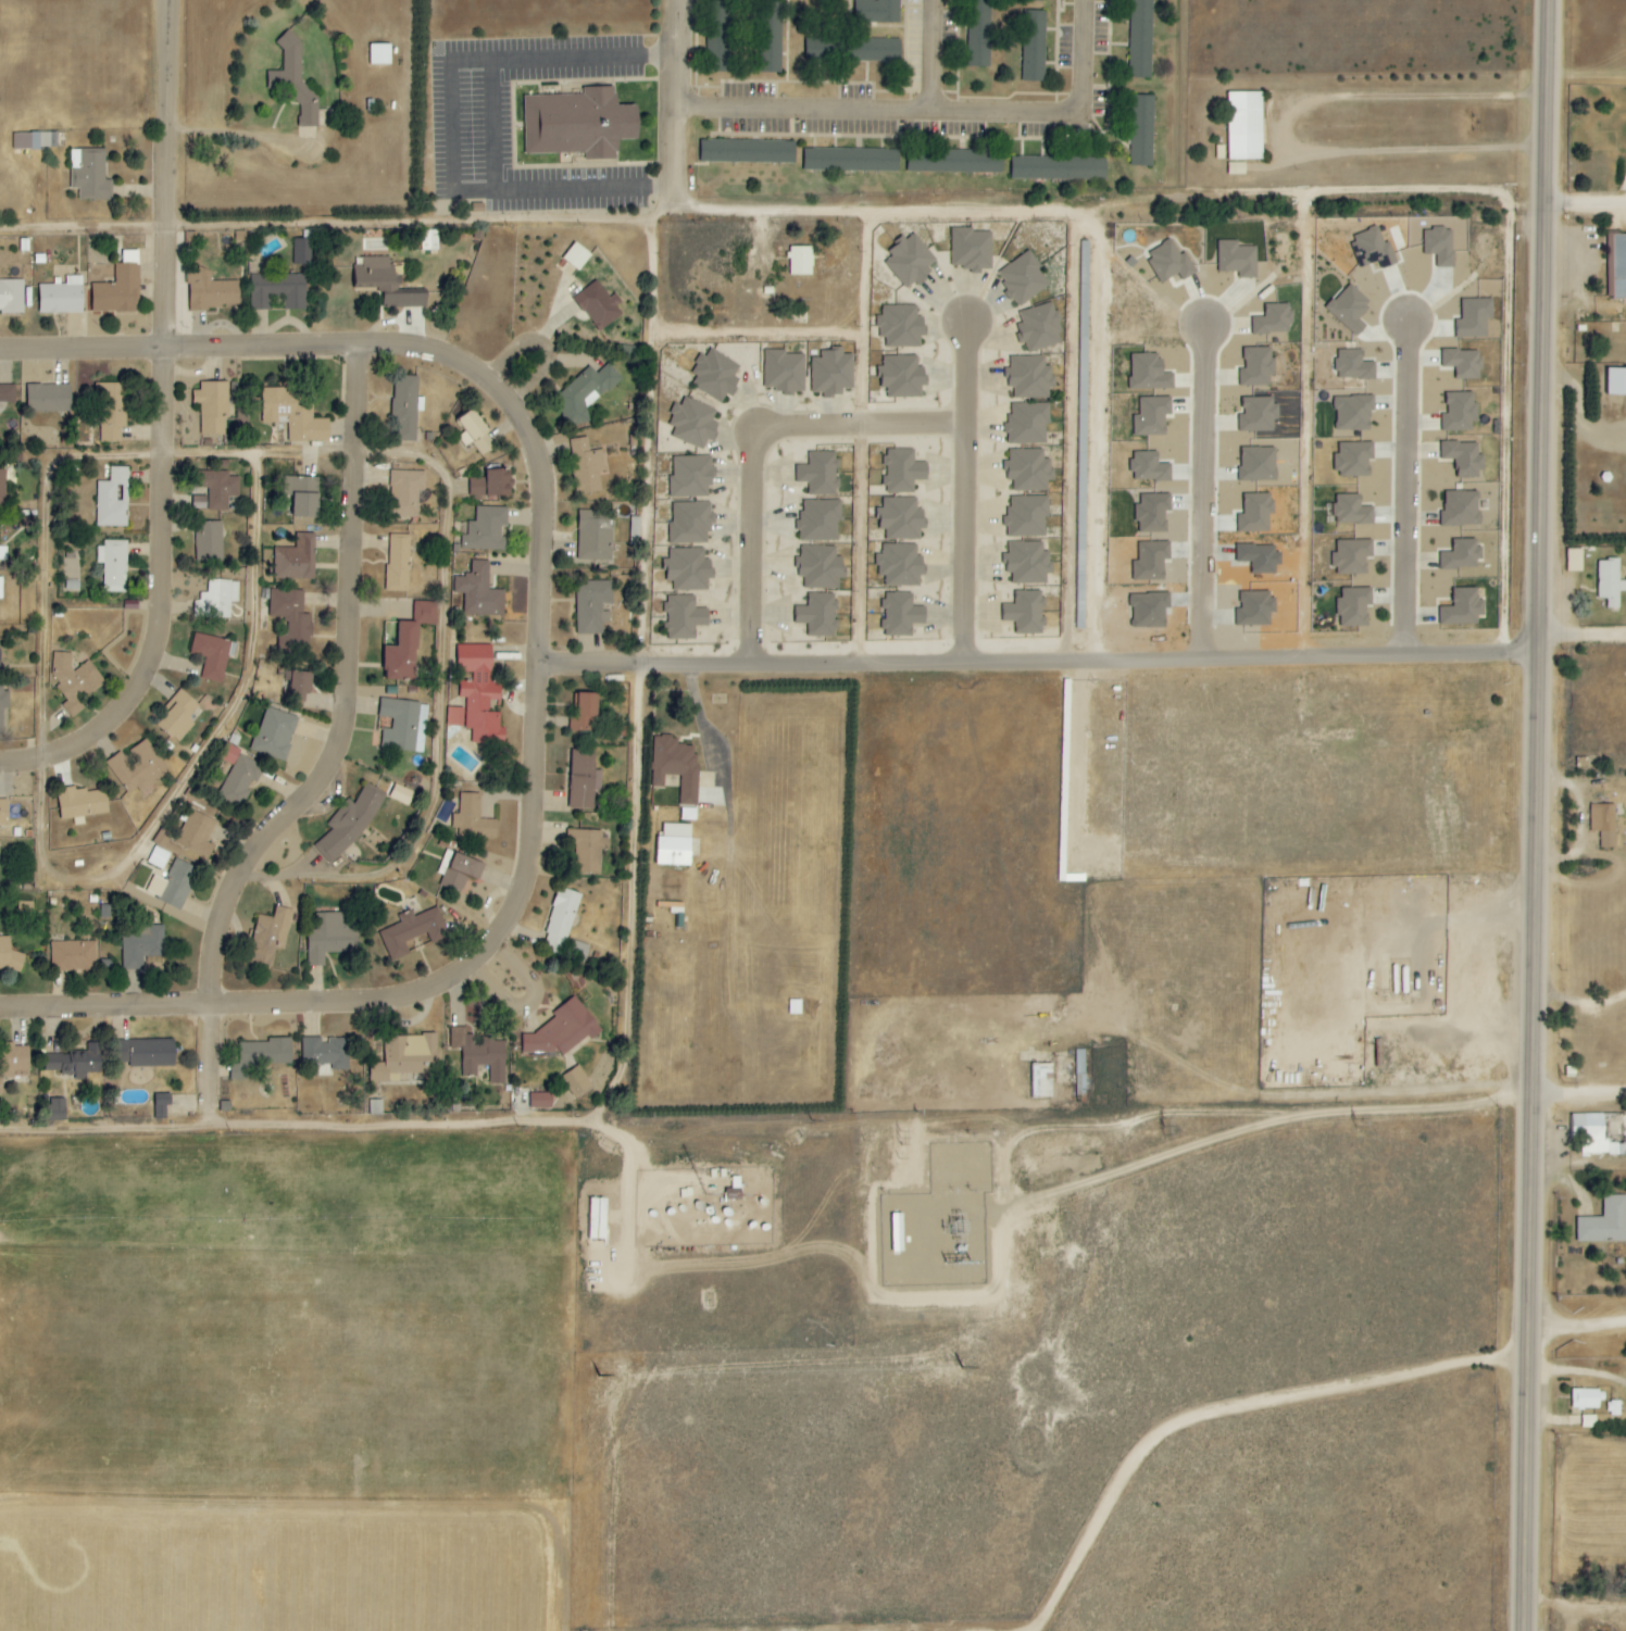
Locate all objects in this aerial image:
building: (1036, 0)
building: (878, 11)
building: (979, 33)
building: (717, 36)
building: (1140, 38)
building: (1034, 46)
building: (379, 54)
road: (941, 57)
building: (296, 81)
road: (680, 104)
road: (948, 114)
road: (490, 118)
building: (578, 124)
building: (1244, 126)
road: (1305, 126)
building: (1142, 130)
road: (245, 138)
building: (48, 140)
building: (25, 141)
building: (747, 151)
building: (851, 160)
building: (954, 161)
building: (1059, 168)
building: (89, 174)
road: (1589, 206)
road: (889, 215)
road: (339, 228)
building: (429, 240)
building: (1439, 246)
building: (972, 249)
building: (1373, 249)
building: (302, 251)
building: (1237, 259)
building: (800, 261)
building: (911, 261)
building: (1170, 262)
building: (1618, 264)
building: (1023, 278)
building: (387, 284)
building: (118, 288)
building: (211, 291)
building: (278, 291)
building: (11, 297)
building: (61, 297)
building: (598, 305)
building: (1350, 308)
building: (1474, 317)
building: (1274, 319)
building: (901, 326)
building: (1040, 328)
road: (550, 342)
road: (183, 348)
road: (431, 349)
building: (1463, 363)
building: (1353, 365)
building: (1256, 367)
building: (784, 372)
building: (831, 373)
building: (1148, 373)
building: (715, 375)
building: (902, 377)
building: (1029, 377)
building: (1616, 381)
building: (585, 392)
building: (7, 394)
building: (48, 398)
building: (212, 406)
building: (405, 407)
building: (113, 412)
building: (1460, 412)
building: (1353, 413)
building: (295, 414)
building: (1258, 414)
building: (1152, 416)
building: (692, 423)
building: (1028, 423)
road: (170, 434)
building: (474, 434)
road: (1098, 435)
building: (1084, 441)
road: (750, 443)
road: (57, 456)
building: (1353, 459)
building: (1464, 459)
building: (1258, 464)
building: (222, 465)
building: (587, 467)
building: (1149, 467)
building: (1028, 471)
building: (902, 472)
building: (820, 474)
building: (691, 476)
building: (491, 485)
building: (2, 489)
road: (1405, 489)
building: (216, 490)
road: (962, 491)
building: (406, 493)
road: (1201, 493)
building: (303, 497)
building: (113, 500)
building: (1461, 509)
building: (1352, 510)
building: (1152, 513)
building: (1255, 513)
building: (1027, 516)
building: (901, 519)
building: (820, 520)
building: (691, 523)
building: (486, 530)
building: (596, 536)
building: (209, 541)
building: (3, 553)
building: (1463, 555)
building: (1352, 556)
building: (296, 560)
building: (1151, 561)
building: (1575, 561)
building: (398, 563)
building: (1028, 563)
building: (900, 565)
building: (112, 566)
building: (820, 567)
building: (688, 569)
building: (1610, 582)
building: (1, 588)
building: (478, 593)
building: (216, 600)
building: (592, 606)
building: (1354, 606)
building: (1463, 609)
building: (425, 613)
building: (1026, 613)
building: (818, 615)
building: (901, 615)
building: (291, 616)
building: (684, 617)
road: (1586, 641)
building: (213, 655)
building: (401, 655)
road: (1045, 665)
road: (637, 677)
building: (73, 681)
building: (299, 686)
road: (358, 697)
building: (478, 697)
building: (3, 704)
building: (584, 713)
building: (179, 718)
building: (403, 726)
building: (274, 735)
building: (677, 767)
building: (138, 769)
building: (240, 780)
building: (584, 780)
building: (401, 795)
building: (82, 803)
building: (3, 813)
road: (1542, 815)
building: (474, 819)
building: (350, 821)
building: (1604, 824)
building: (197, 835)
building: (674, 845)
building: (587, 850)
building: (158, 858)
building: (459, 870)
building: (148, 881)
building: (178, 886)
road: (525, 913)
building: (560, 921)
building: (412, 932)
building: (268, 937)
building: (330, 938)
building: (141, 945)
building: (9, 956)
building: (73, 956)
road: (1429, 978)
road: (538, 1005)
building: (562, 1030)
building: (326, 1052)
building: (152, 1053)
building: (479, 1054)
building: (261, 1055)
building: (404, 1056)
building: (12, 1061)
building: (74, 1062)
road: (217, 1070)
building: (1080, 1072)
power tower: (1560, 1079)
building: (1041, 1080)
building: (576, 1082)
road: (1581, 1095)
road: (1304, 1100)
building: (540, 1101)
building: (161, 1106)
building: (376, 1106)
building: (57, 1108)
power tower: (1355, 1127)
road: (375, 1129)
power tower: (1161, 1129)
building: (1593, 1136)
power tower: (897, 1138)
power substation: (958, 1167)
building: (1604, 1222)
road: (1580, 1326)
building: (1585, 1398)
building: (1613, 1408)
road: (1234, 1410)
building: (1589, 1421)

